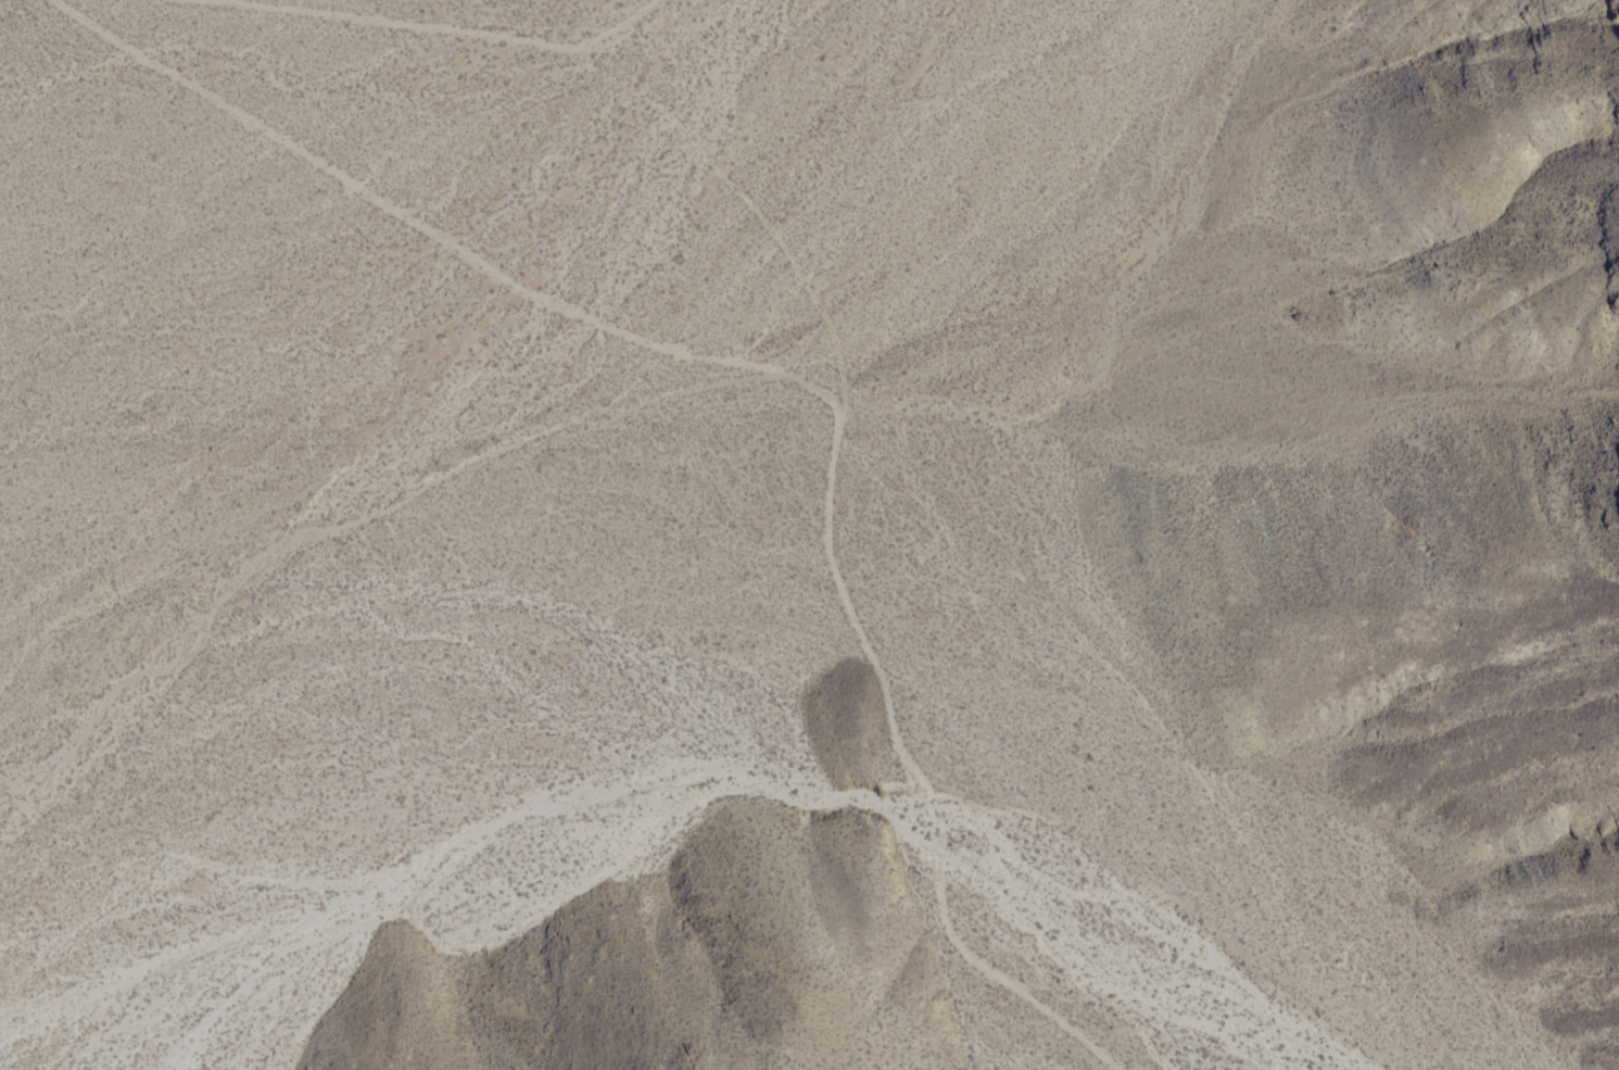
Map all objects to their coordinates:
road: (429, 32)
road: (835, 559)

